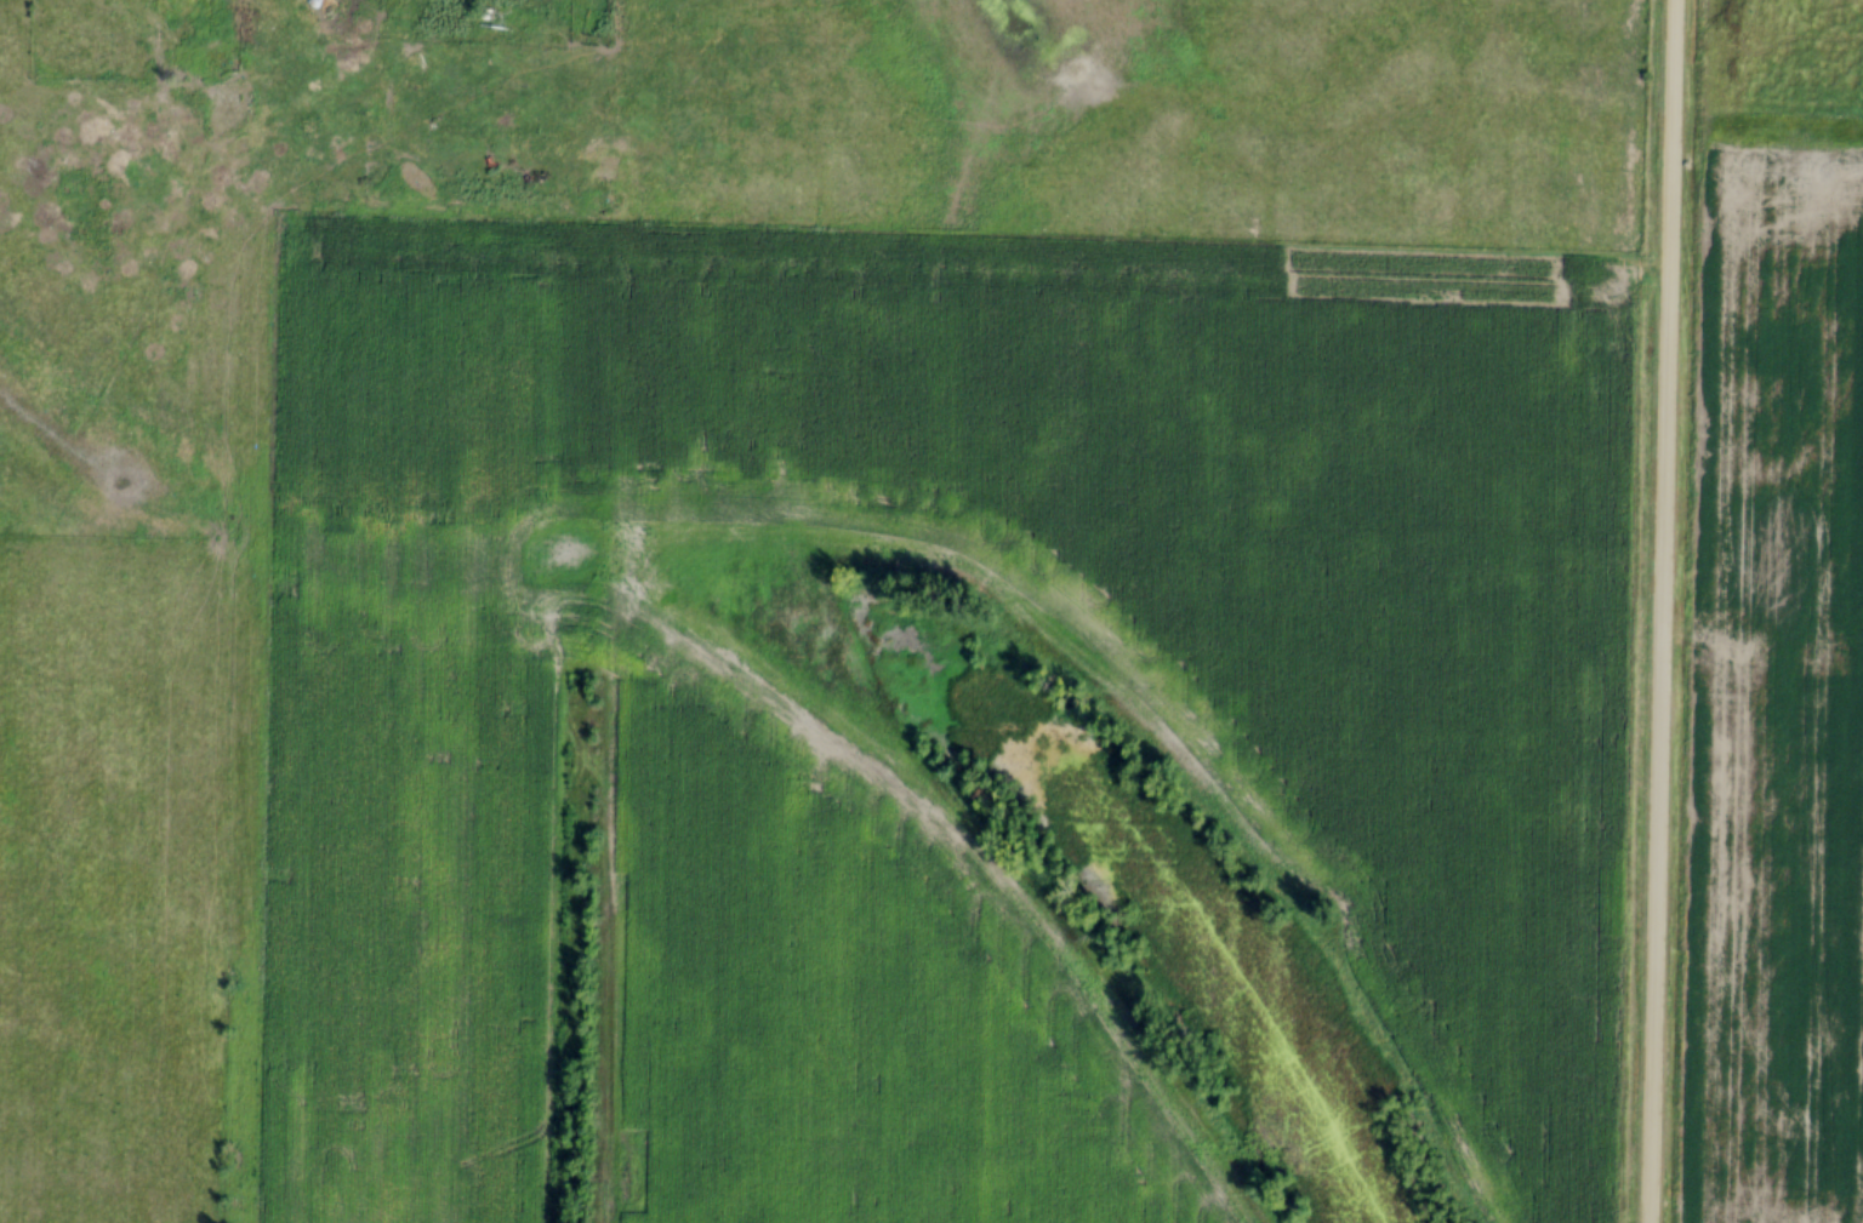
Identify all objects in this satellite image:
road: (1658, 611)

